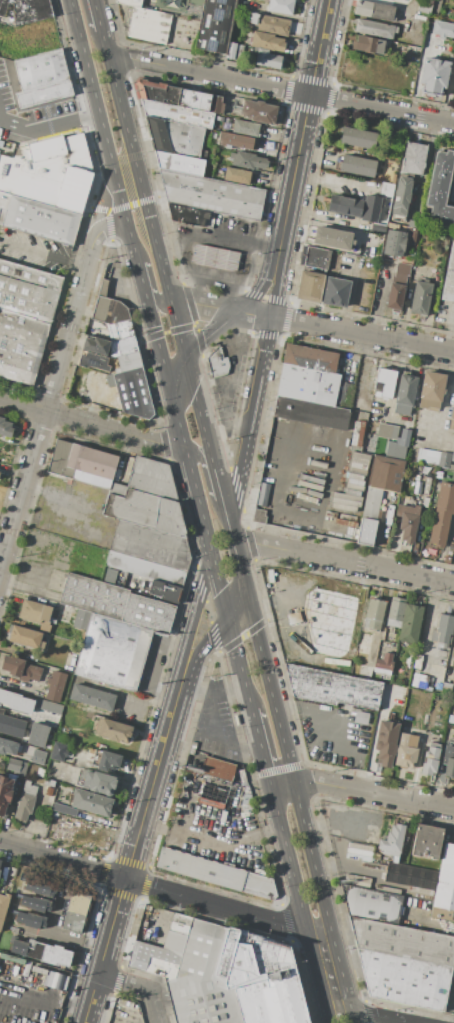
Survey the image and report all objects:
building: (408, 0)
building: (130, 3)
building: (243, 4)
building: (281, 6)
building: (424, 7)
building: (27, 10)
building: (374, 10)
building: (451, 13)
road: (97, 15)
building: (269, 24)
building: (149, 25)
building: (214, 25)
building: (375, 28)
building: (443, 32)
building: (267, 41)
building: (368, 44)
building: (234, 52)
building: (267, 59)
building: (41, 71)
building: (434, 74)
road: (280, 88)
road: (448, 92)
building: (43, 94)
building: (173, 95)
building: (216, 105)
parking lot: (31, 111)
building: (259, 111)
building: (177, 113)
road: (48, 115)
building: (218, 118)
building: (245, 127)
road: (126, 128)
road: (303, 128)
road: (104, 131)
building: (213, 135)
building: (175, 137)
building: (358, 138)
building: (234, 140)
building: (414, 158)
building: (247, 161)
building: (180, 163)
building: (358, 166)
building: (47, 169)
building: (237, 176)
building: (439, 190)
building: (214, 194)
building: (401, 199)
building: (4, 200)
building: (382, 203)
road: (122, 206)
road: (367, 206)
building: (344, 207)
building: (192, 216)
building: (40, 220)
building: (413, 224)
road: (108, 225)
building: (412, 235)
road: (215, 236)
building: (332, 238)
building: (394, 243)
road: (42, 252)
road: (185, 256)
building: (215, 257)
building: (315, 257)
road: (160, 263)
road: (140, 273)
building: (449, 277)
road: (238, 281)
road: (261, 285)
building: (310, 285)
road: (128, 286)
road: (274, 287)
building: (397, 287)
building: (28, 289)
road: (144, 289)
road: (196, 289)
building: (336, 291)
road: (229, 295)
building: (421, 297)
road: (158, 298)
road: (182, 301)
road: (210, 306)
building: (109, 311)
road: (234, 311)
road: (447, 328)
road: (177, 329)
building: (120, 330)
building: (93, 331)
road: (166, 332)
road: (347, 332)
road: (211, 334)
building: (21, 344)
road: (237, 344)
building: (95, 346)
building: (123, 346)
road: (158, 347)
road: (261, 358)
building: (310, 358)
traffic signals: (184, 359)
building: (94, 361)
building: (129, 361)
building: (218, 363)
building: (117, 371)
road: (188, 373)
building: (94, 377)
road: (176, 378)
parking lot: (231, 380)
road: (212, 382)
building: (385, 382)
road: (52, 384)
building: (308, 384)
building: (432, 390)
building: (132, 392)
building: (405, 394)
building: (344, 395)
road: (229, 396)
traffic signals: (172, 399)
road: (445, 400)
building: (311, 413)
road: (225, 416)
building: (452, 418)
road: (201, 422)
road: (92, 424)
road: (178, 424)
building: (5, 428)
building: (356, 433)
building: (394, 439)
road: (197, 454)
building: (453, 455)
building: (428, 456)
building: (444, 459)
road: (241, 460)
building: (83, 464)
building: (451, 467)
building: (385, 473)
building: (152, 478)
road: (216, 479)
building: (426, 492)
building: (263, 494)
road: (198, 502)
building: (372, 503)
road: (224, 510)
building: (146, 511)
building: (390, 512)
building: (442, 514)
building: (259, 516)
building: (408, 521)
building: (366, 531)
building: (151, 545)
road: (235, 552)
road: (343, 561)
building: (146, 569)
traffic signals: (243, 584)
road: (220, 586)
building: (161, 590)
building: (94, 596)
road: (235, 600)
road: (197, 609)
building: (395, 612)
building: (147, 613)
building: (373, 614)
building: (36, 615)
traffic signals: (228, 617)
building: (81, 619)
building: (410, 623)
building: (443, 631)
building: (23, 635)
road: (425, 637)
road: (206, 639)
building: (365, 643)
building: (112, 652)
road: (239, 663)
building: (384, 664)
road: (151, 666)
building: (20, 669)
building: (453, 670)
building: (364, 671)
building: (419, 681)
road: (19, 686)
building: (55, 686)
building: (333, 687)
road: (212, 690)
building: (91, 696)
building: (16, 701)
road: (153, 703)
building: (50, 707)
road: (355, 716)
parking lot: (216, 724)
building: (12, 726)
road: (220, 729)
building: (112, 730)
parking lot: (337, 732)
building: (36, 734)
building: (386, 742)
road: (242, 743)
road: (320, 744)
building: (8, 747)
road: (261, 749)
building: (407, 750)
building: (58, 751)
building: (38, 757)
building: (449, 758)
building: (103, 759)
road: (287, 759)
building: (430, 759)
building: (16, 766)
building: (218, 768)
building: (40, 771)
road: (156, 771)
building: (49, 782)
building: (97, 782)
road: (283, 787)
building: (49, 791)
road: (374, 794)
building: (4, 795)
building: (246, 795)
building: (211, 798)
building: (26, 800)
building: (92, 802)
road: (185, 807)
building: (64, 809)
road: (236, 817)
parking lot: (352, 819)
road: (362, 826)
parking lot: (216, 827)
building: (407, 835)
building: (392, 840)
road: (214, 841)
building: (427, 841)
building: (359, 851)
building: (406, 852)
building: (376, 856)
building: (0, 862)
road: (290, 865)
building: (373, 866)
building: (216, 873)
building: (412, 876)
building: (358, 879)
building: (444, 887)
building: (40, 888)
road: (159, 889)
building: (35, 904)
building: (373, 904)
road: (56, 907)
building: (3, 908)
building: (75, 912)
building: (31, 920)
building: (146, 925)
building: (14, 930)
building: (177, 932)
building: (402, 941)
road: (75, 942)
building: (17, 946)
road: (102, 951)
building: (50, 954)
building: (12, 958)
building: (154, 958)
building: (39, 970)
road: (329, 972)
building: (260, 978)
building: (405, 979)
building: (54, 980)
building: (201, 980)
road: (125, 982)
road: (156, 1008)
road: (373, 1015)
road: (337, 1016)
road: (344, 1016)
road: (149, 1017)
building: (48, 1018)
building: (53, 1021)

